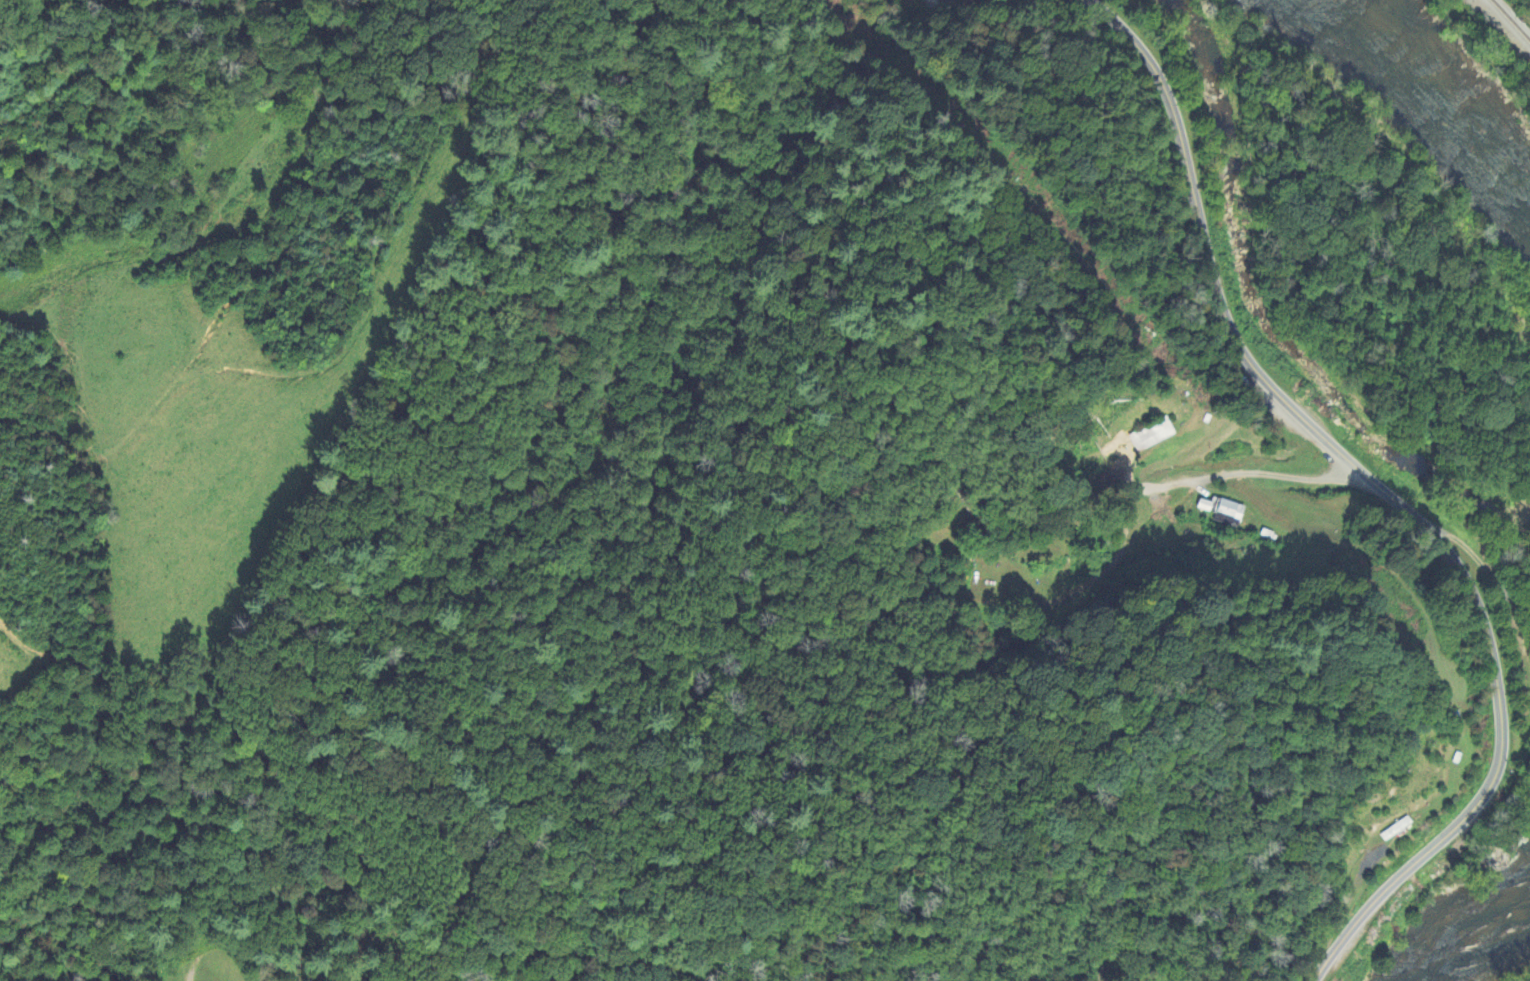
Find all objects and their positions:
railway: (1510, 21)
river: (1429, 117)
building: (1152, 435)
road: (1270, 473)
road: (1386, 493)
building: (1229, 513)
river: (1467, 926)

